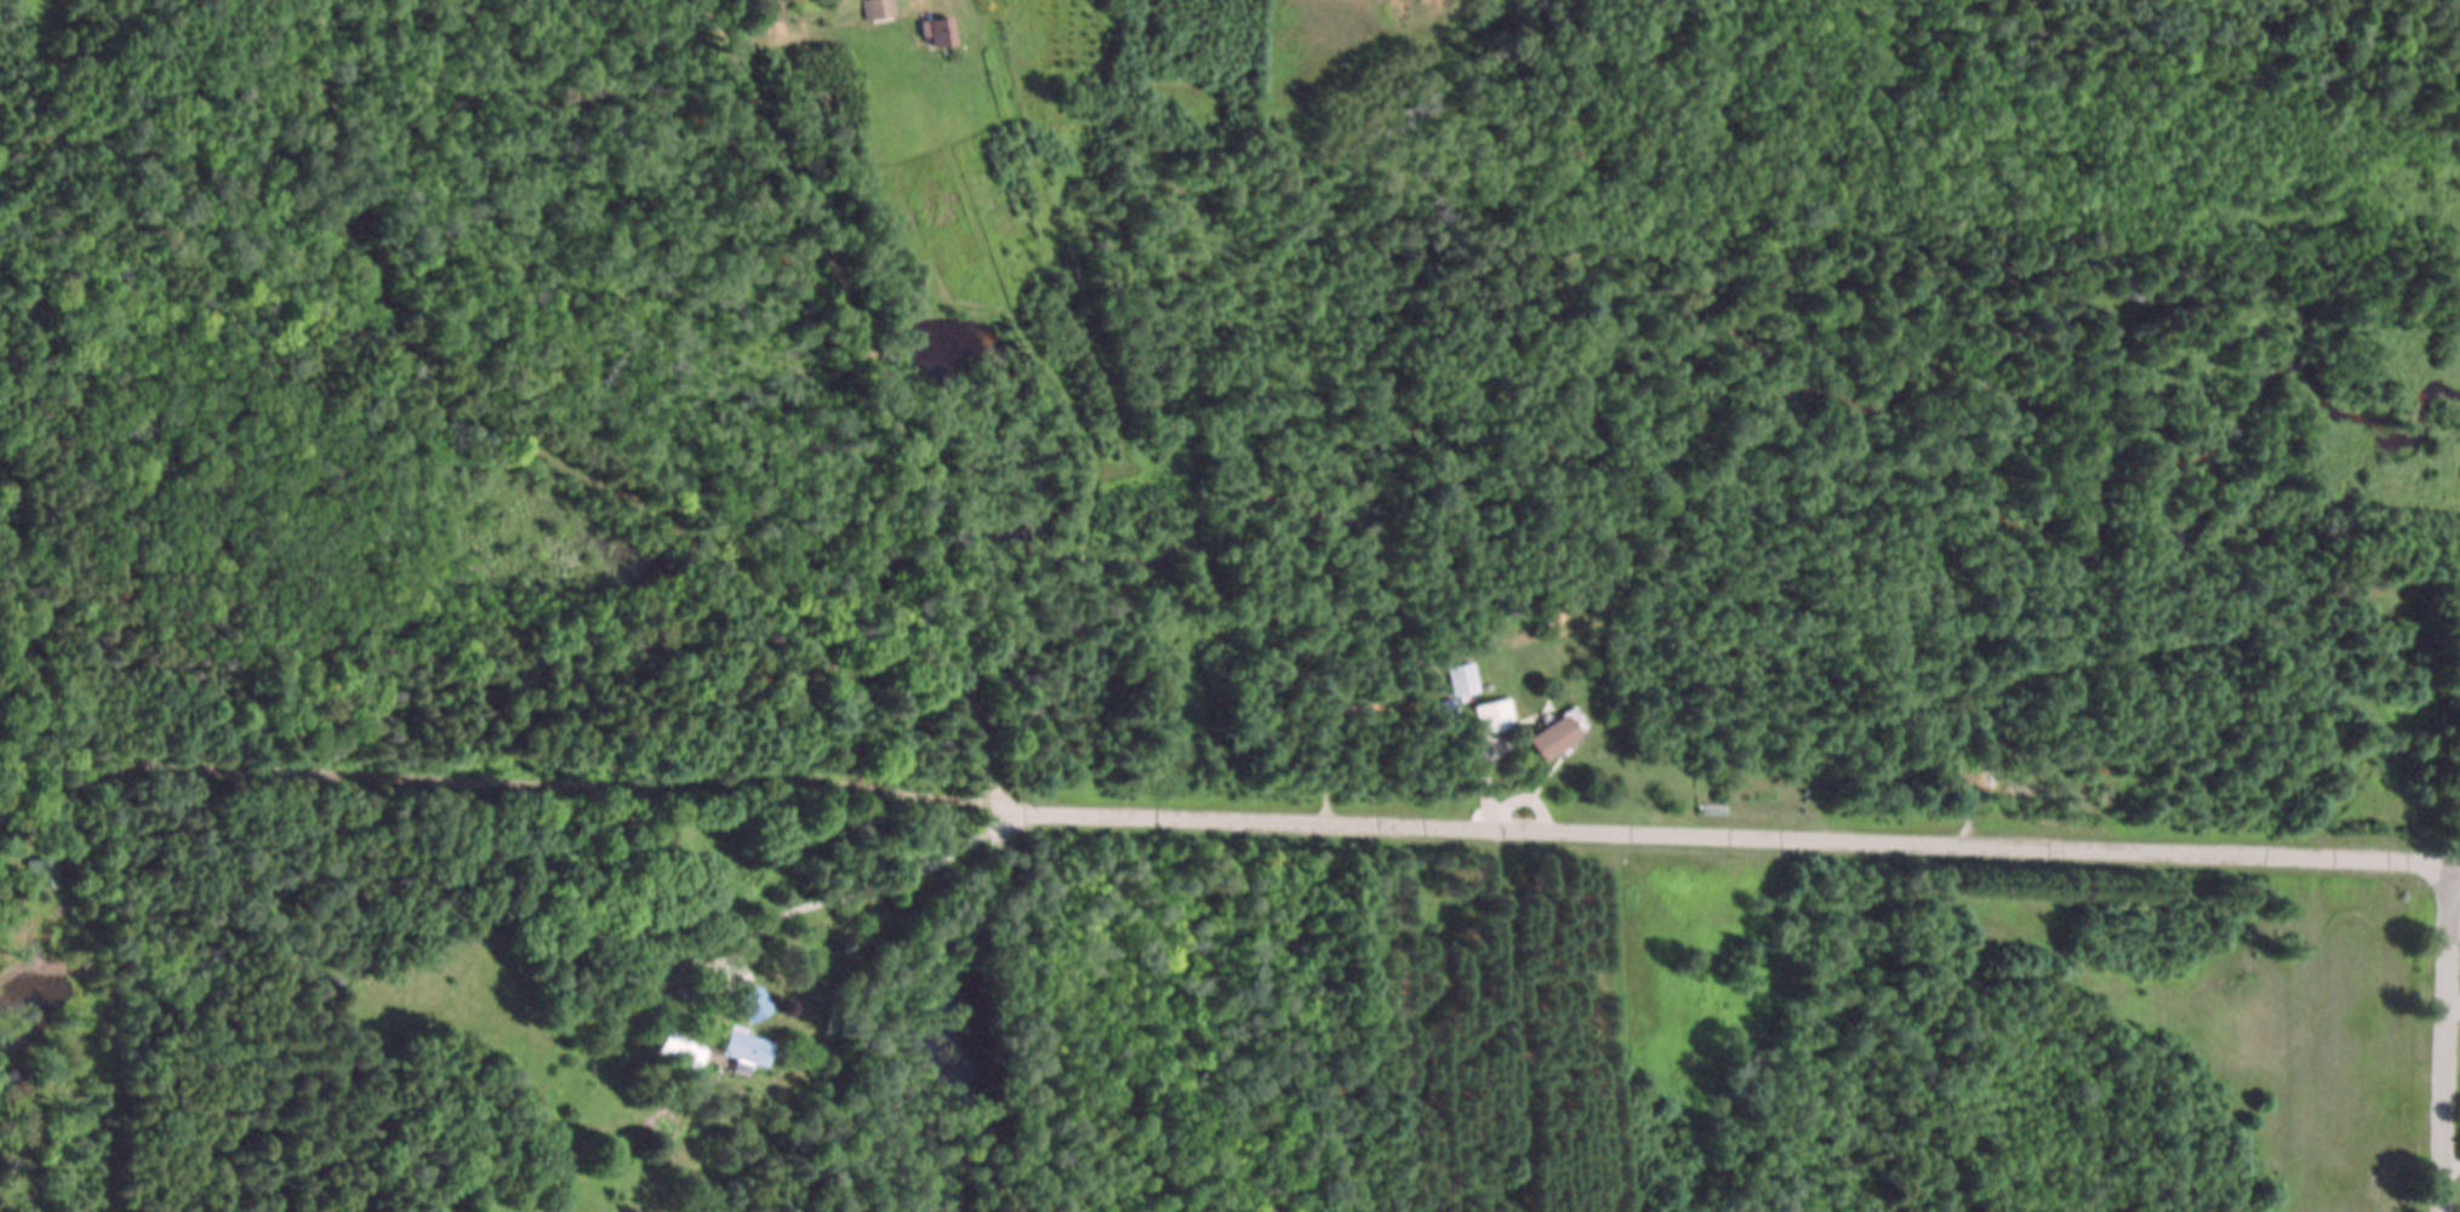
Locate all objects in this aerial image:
building: (879, 10)
building: (936, 32)
road: (879, 394)
building: (1463, 681)
building: (1492, 716)
building: (1553, 738)
road: (703, 789)
road: (1724, 836)
road: (2453, 863)
building: (44, 873)
road: (2443, 1036)
building: (683, 1048)
building: (746, 1048)
road: (2450, 1165)

